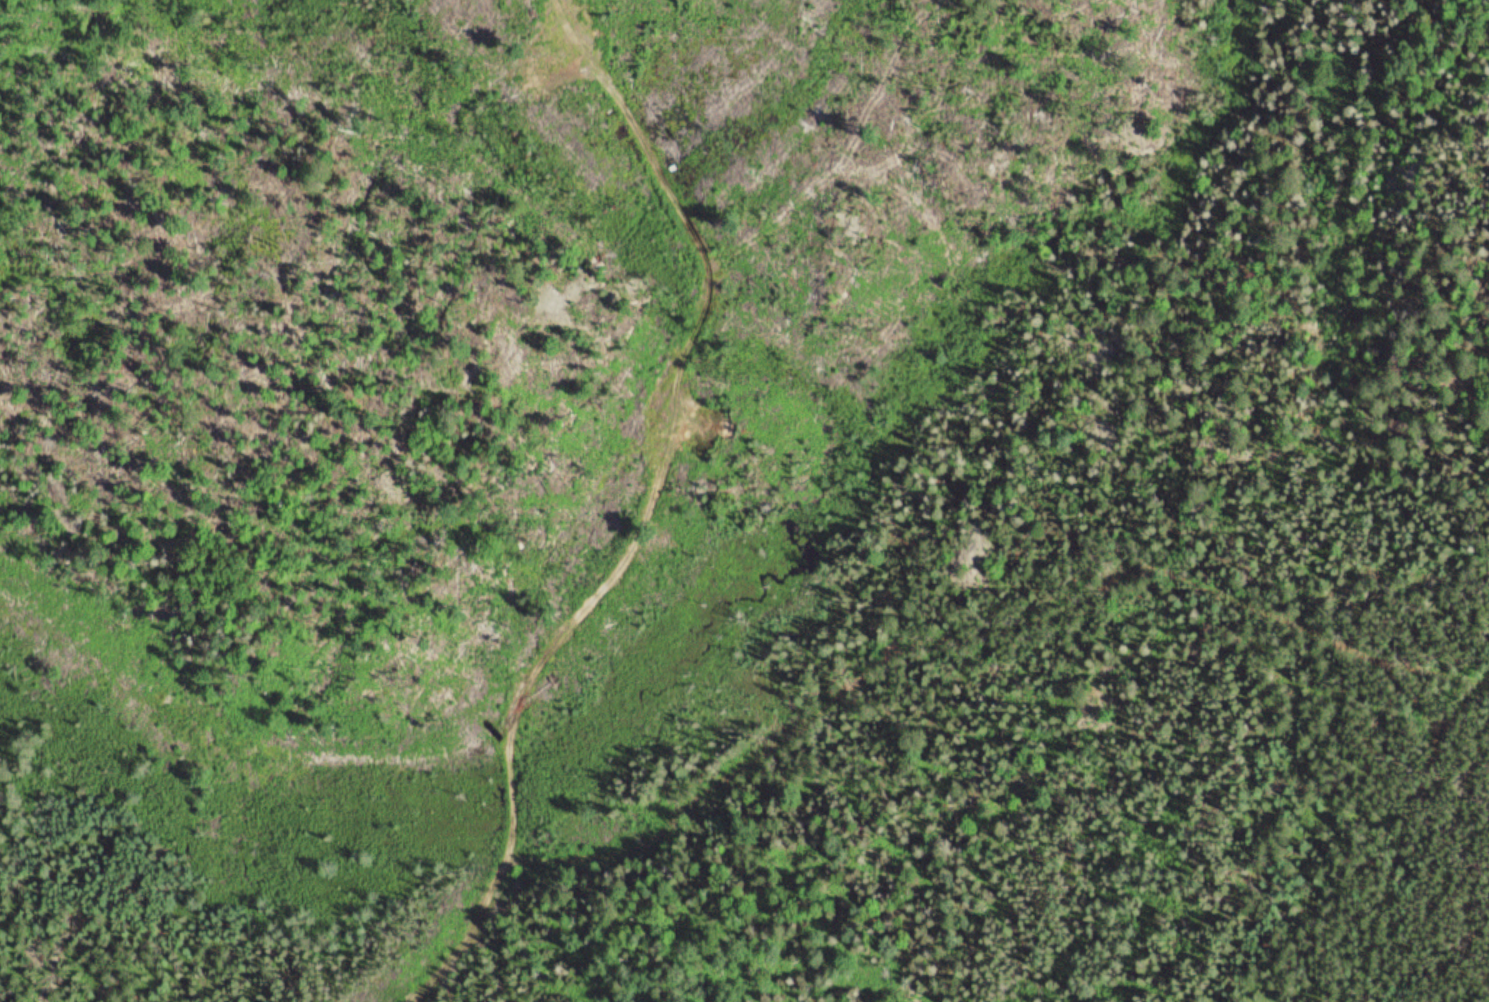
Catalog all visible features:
road: (840, 671)

